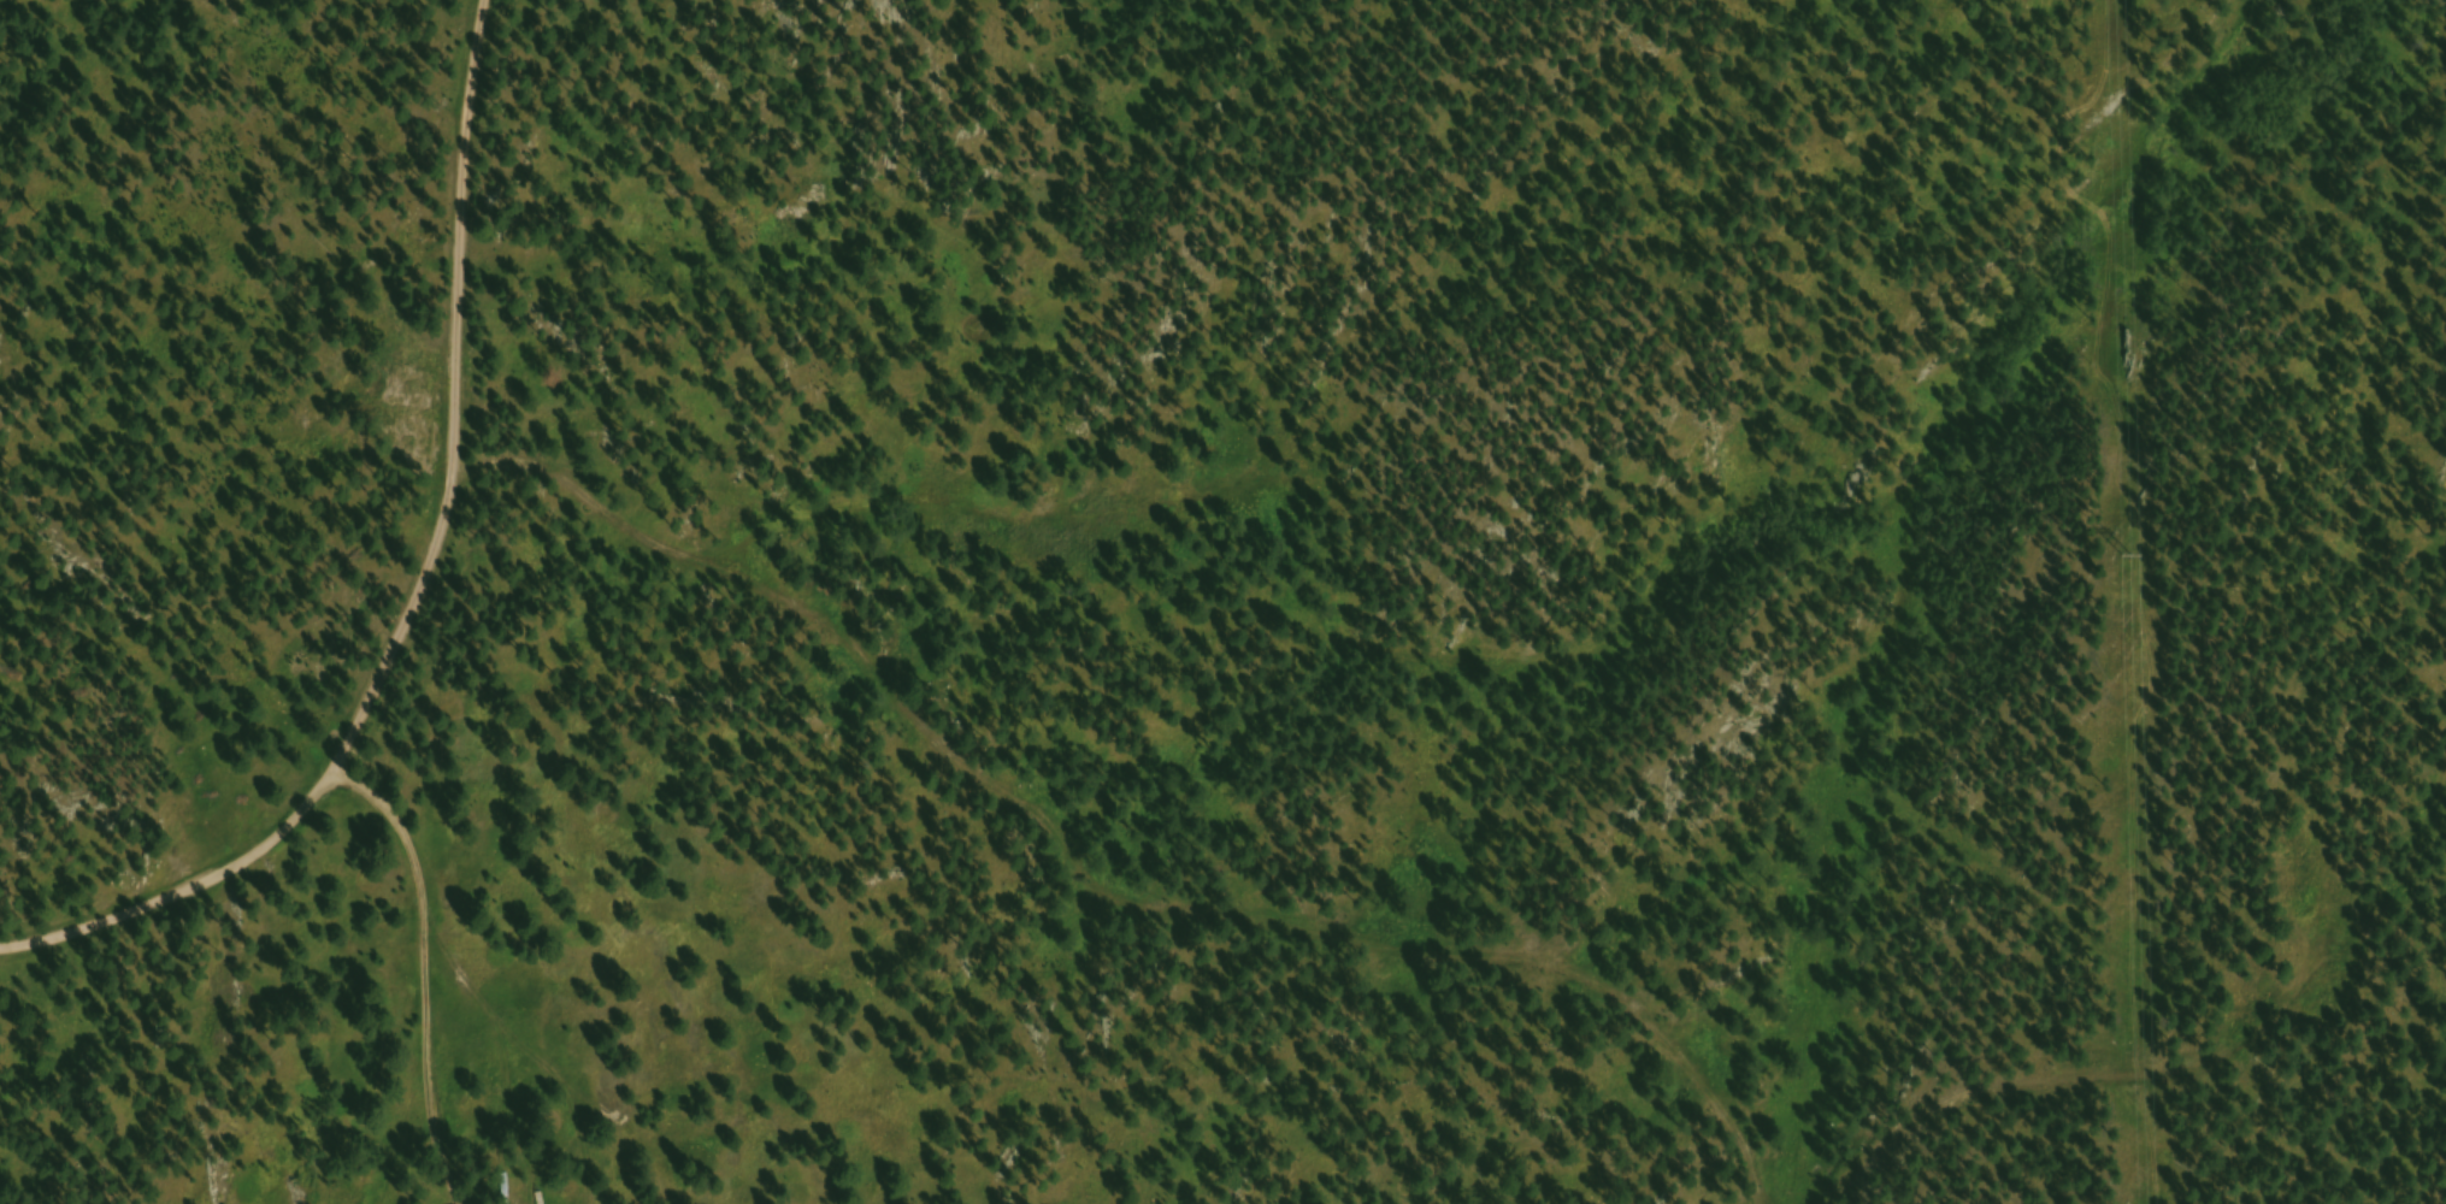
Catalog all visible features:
road: (435, 594)

